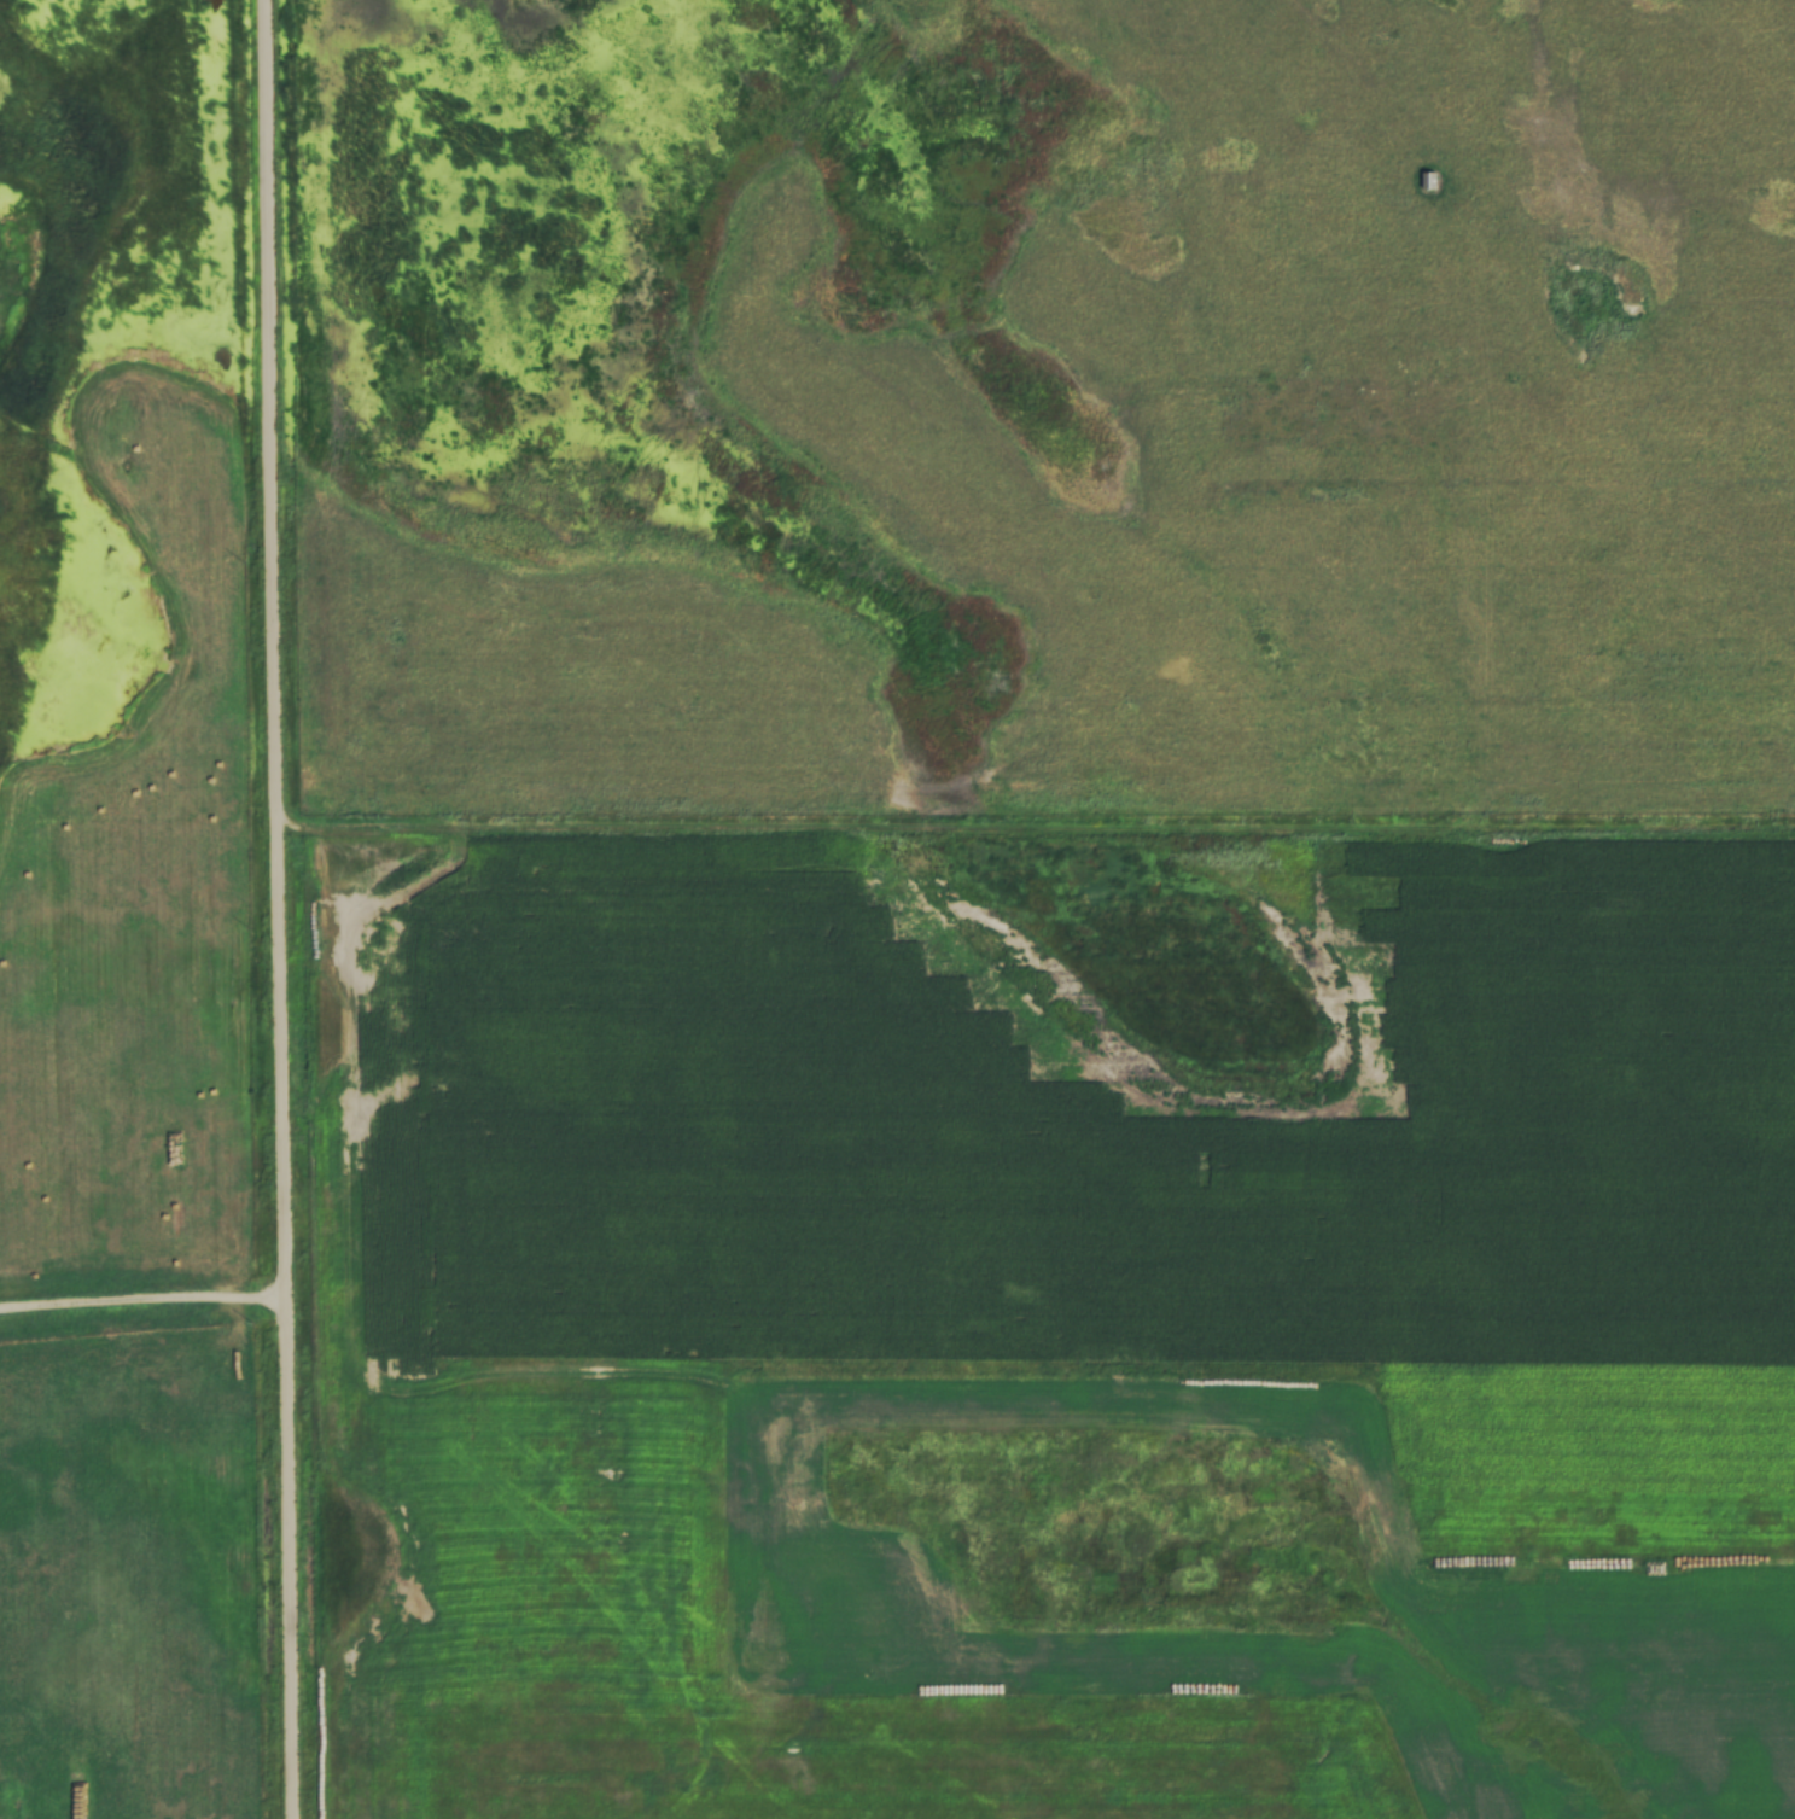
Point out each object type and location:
building: (1427, 180)
road: (293, 909)
building: (176, 1225)
road: (148, 1273)
building: (76, 1785)

